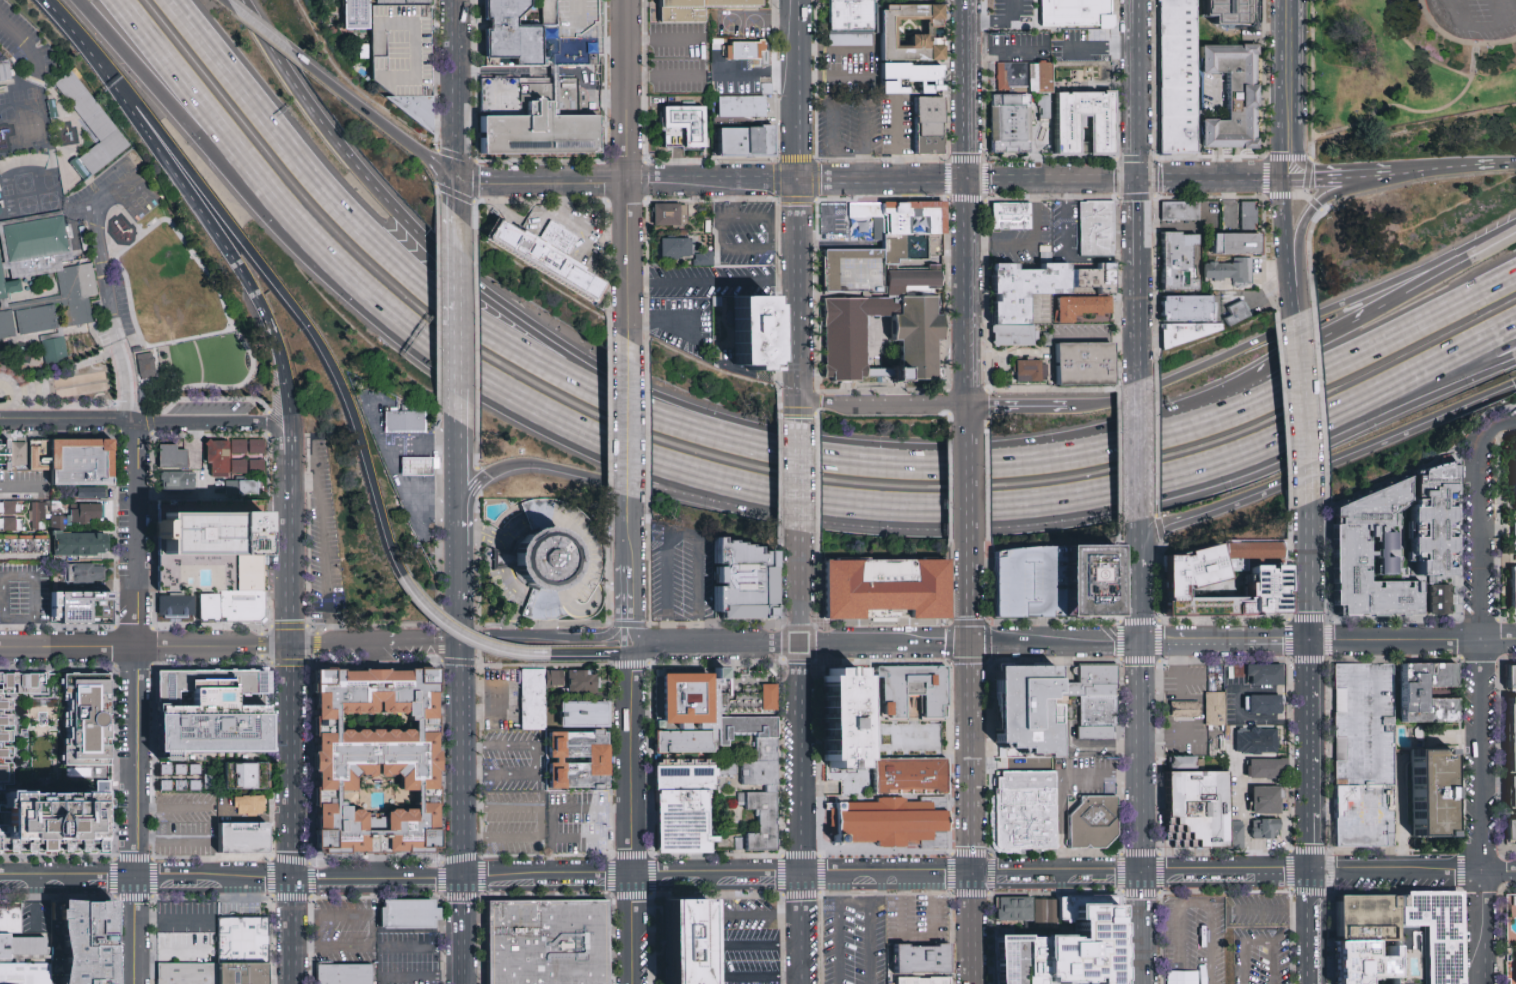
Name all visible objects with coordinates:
road: (223, 3)
building: (695, 8)
road: (1031, 11)
road: (989, 13)
building: (1078, 13)
building: (354, 14)
road: (1514, 18)
road: (757, 19)
parking lot: (1475, 19)
building: (853, 23)
road: (1486, 29)
building: (912, 31)
road: (268, 35)
building: (509, 36)
road: (661, 39)
road: (1457, 41)
road: (24, 44)
road: (1097, 45)
road: (84, 47)
road: (835, 49)
building: (744, 50)
road: (1002, 50)
building: (363, 51)
road: (1415, 54)
road: (1280, 55)
building: (403, 56)
road: (755, 72)
building: (1179, 74)
building: (6, 75)
building: (1026, 75)
park: (1418, 75)
road: (661, 76)
road: (1296, 76)
road: (834, 77)
building: (911, 79)
road: (1313, 79)
road: (455, 89)
road: (1136, 90)
road: (626, 91)
road: (796, 91)
parking lot: (1217, 94)
building: (1235, 95)
road: (849, 101)
building: (741, 108)
road: (365, 110)
road: (1439, 111)
road: (181, 113)
road: (1371, 115)
building: (1012, 121)
building: (929, 126)
building: (683, 127)
road: (1216, 128)
building: (540, 132)
building: (1105, 135)
building: (114, 139)
road: (896, 140)
building: (744, 143)
road: (1280, 145)
road: (1209, 159)
road: (1506, 165)
road: (440, 167)
road: (1458, 167)
road: (1354, 170)
road: (1264, 174)
road: (1350, 177)
traffic signals: (455, 178)
traffic signals: (1280, 180)
road: (540, 181)
road: (1037, 181)
traffic signals: (1137, 181)
traffic signals: (967, 182)
road: (711, 183)
road: (1306, 188)
road: (204, 189)
road: (455, 197)
road: (563, 197)
road: (1155, 197)
road: (1209, 197)
road: (1318, 204)
road: (967, 209)
building: (863, 210)
building: (1181, 212)
road: (832, 213)
building: (1248, 213)
building: (1012, 214)
building: (668, 215)
road: (718, 220)
road: (1137, 223)
building: (1097, 226)
building: (914, 232)
building: (560, 234)
building: (1240, 242)
road: (226, 243)
road: (843, 244)
road: (1489, 245)
road: (566, 246)
road: (1033, 246)
building: (674, 248)
road: (783, 248)
road: (1282, 248)
road: (1489, 248)
road: (100, 251)
road: (1065, 255)
road: (1308, 258)
road: (449, 259)
building: (702, 259)
building: (534, 260)
building: (1180, 260)
road: (626, 262)
building: (1232, 270)
road: (409, 273)
road: (455, 273)
building: (41, 279)
road: (711, 282)
building: (1044, 286)
road: (796, 303)
building: (1084, 306)
building: (1190, 307)
building: (1237, 314)
road: (1358, 318)
road: (660, 322)
road: (1137, 323)
road: (1295, 327)
road: (694, 328)
building: (1187, 331)
park: (164, 333)
building: (758, 334)
building: (1013, 334)
road: (1095, 339)
building: (885, 340)
road: (432, 348)
building: (57, 351)
road: (1006, 352)
building: (1087, 362)
building: (145, 364)
building: (1030, 369)
road: (756, 375)
road: (455, 376)
road: (1396, 380)
road: (127, 383)
park: (83, 384)
road: (1396, 399)
road: (1320, 400)
road: (881, 405)
road: (1016, 406)
road: (1298, 411)
road: (1234, 413)
road: (626, 419)
building: (410, 421)
road: (66, 422)
road: (1510, 422)
road: (198, 425)
road: (354, 425)
road: (284, 431)
road: (277, 433)
road: (1094, 434)
road: (195, 444)
building: (246, 447)
road: (283, 449)
road: (420, 450)
road: (1138, 451)
building: (17, 453)
building: (171, 457)
building: (215, 458)
road: (827, 460)
building: (83, 462)
road: (1328, 464)
building: (238, 466)
building: (421, 467)
gas station: (421, 467)
road: (456, 468)
road: (967, 474)
building: (1514, 474)
road: (797, 477)
road: (1392, 479)
road: (300, 482)
building: (245, 487)
road: (22, 488)
building: (89, 493)
road: (176, 494)
road: (471, 494)
road: (678, 494)
road: (1077, 496)
road: (1326, 501)
building: (10, 508)
building: (85, 513)
building: (37, 516)
building: (1433, 522)
building: (10, 524)
road: (1138, 530)
building: (1514, 530)
road: (675, 533)
road: (967, 541)
building: (88, 542)
road: (322, 543)
building: (24, 544)
building: (214, 547)
road: (286, 547)
building: (1256, 552)
road: (1138, 553)
building: (1368, 557)
road: (458, 558)
building: (547, 560)
road: (628, 573)
road: (1309, 573)
building: (86, 575)
building: (1193, 577)
helipad: (1108, 581)
building: (1026, 583)
building: (1106, 585)
road: (797, 588)
building: (744, 590)
building: (1512, 590)
building: (883, 594)
road: (33, 596)
road: (1, 598)
road: (967, 599)
building: (1438, 599)
building: (79, 604)
building: (173, 604)
road: (1139, 605)
building: (246, 607)
building: (212, 609)
parking lot: (1084, 614)
road: (430, 616)
traffic signals: (481, 636)
road: (1478, 638)
traffic signals: (434, 639)
road: (558, 639)
road: (1413, 639)
road: (402, 640)
traffic signals: (1312, 640)
road: (1225, 641)
traffic signals: (288, 643)
road: (311, 643)
traffic signals: (1140, 643)
road: (715, 644)
road: (1054, 644)
road: (883, 645)
road: (144, 646)
traffic signals: (968, 646)
road: (510, 652)
road: (591, 654)
road: (633, 666)
traffic signals: (461, 668)
road: (1181, 669)
building: (1265, 677)
building: (1512, 677)
building: (1088, 679)
road: (798, 680)
road: (1192, 680)
building: (572, 682)
building: (1098, 690)
road: (1269, 690)
building: (1412, 693)
building: (911, 695)
building: (532, 697)
road: (515, 700)
building: (771, 702)
road: (134, 704)
building: (690, 704)
building: (1265, 707)
building: (210, 710)
building: (1027, 710)
building: (1186, 710)
building: (1096, 711)
building: (1216, 713)
building: (582, 715)
road: (1261, 719)
building: (846, 721)
building: (1366, 725)
building: (89, 729)
road: (1183, 730)
road: (969, 731)
building: (1092, 732)
building: (1511, 733)
road: (1172, 740)
building: (1256, 742)
road: (1084, 743)
building: (582, 755)
road: (1141, 758)
road: (533, 759)
building: (376, 761)
building: (1268, 770)
building: (245, 774)
road: (1101, 774)
road: (1312, 775)
building: (912, 776)
road: (461, 792)
building: (1430, 793)
building: (1512, 795)
building: (1268, 802)
building: (252, 806)
road: (171, 807)
parking lot: (183, 808)
parking lot: (536, 809)
road: (557, 809)
building: (1024, 810)
building: (1197, 810)
road: (291, 813)
road: (1242, 815)
building: (1367, 816)
road: (541, 822)
building: (682, 822)
building: (760, 823)
building: (895, 824)
building: (1094, 824)
road: (1061, 825)
building: (1264, 829)
building: (1510, 832)
road: (633, 833)
parking lot: (184, 837)
building: (244, 838)
road: (576, 838)
road: (172, 839)
road: (970, 847)
road: (801, 849)
road: (1414, 871)
road: (1279, 872)
traffic signals: (1313, 872)
traffic signals: (1143, 873)
road: (1153, 873)
traffic signals: (462, 877)
road: (671, 877)
road: (1015, 877)
road: (230, 878)
traffic signals: (293, 878)
road: (889, 878)
road: (915, 878)
road: (950, 878)
traffic signals: (970, 878)
road: (239, 889)
road: (836, 892)
road: (241, 901)
road: (1193, 903)
road: (36, 904)
road: (1143, 904)
parking lot: (244, 907)
building: (1011, 908)
road: (899, 909)
road: (931, 909)
building: (1036, 909)
building: (1047, 909)
road: (1483, 909)
road: (1262, 910)
road: (1302, 910)
parking lot: (1260, 911)
building: (407, 914)
road: (741, 914)
road: (170, 915)
parking lot: (184, 915)
road: (372, 916)
building: (12, 918)
building: (1366, 919)
parking lot: (343, 927)
road: (868, 928)
road: (837, 929)
road: (970, 931)
road: (1291, 933)
building: (1430, 934)
parking lot: (880, 935)
parking lot: (1197, 939)
building: (1510, 939)
building: (86, 941)
building: (244, 941)
building: (690, 942)
building: (549, 943)
parking lot: (746, 943)
building: (1063, 945)
building: (21, 946)
road: (305, 946)
parking lot: (185, 947)
road: (1313, 947)
road: (423, 948)
road: (1242, 949)
parking lot: (1260, 955)
parking lot: (409, 959)
building: (926, 959)
road: (1143, 959)
road: (721, 960)
road: (1271, 963)
building: (1367, 963)
road: (1483, 965)
building: (345, 972)
building: (189, 974)
building: (244, 974)
building: (26, 975)
road: (420, 978)
building: (927, 981)

